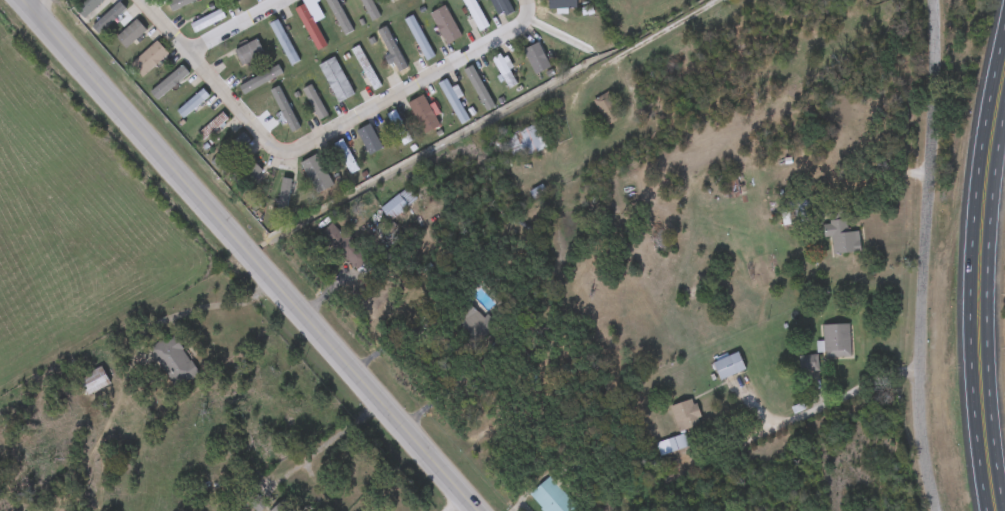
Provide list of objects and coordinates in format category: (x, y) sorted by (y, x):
building: (234, 1)
road: (27, 2)
road: (521, 4)
building: (561, 4)
building: (182, 5)
building: (85, 7)
building: (503, 7)
building: (370, 9)
building: (337, 14)
building: (474, 14)
building: (110, 16)
building: (207, 21)
building: (445, 25)
road: (235, 26)
building: (309, 27)
building: (130, 35)
building: (418, 38)
building: (283, 43)
road: (639, 46)
building: (247, 52)
building: (392, 52)
building: (148, 59)
building: (536, 59)
building: (365, 69)
building: (504, 71)
building: (259, 80)
building: (335, 80)
building: (172, 81)
road: (213, 82)
road: (417, 86)
building: (478, 88)
building: (313, 100)
building: (453, 102)
building: (192, 104)
building: (606, 109)
building: (284, 112)
building: (423, 115)
building: (212, 127)
building: (398, 127)
building: (368, 140)
building: (527, 142)
building: (229, 152)
building: (345, 157)
road: (1001, 166)
building: (316, 172)
building: (246, 173)
road: (886, 176)
building: (735, 189)
building: (283, 196)
building: (398, 204)
building: (841, 237)
road: (246, 255)
building: (354, 256)
road: (926, 256)
road: (987, 311)
building: (473, 321)
building: (836, 341)
road: (447, 347)
building: (173, 361)
building: (810, 363)
building: (728, 366)
building: (93, 381)
road: (818, 405)
building: (685, 415)
road: (999, 422)
building: (671, 445)
road: (461, 507)

